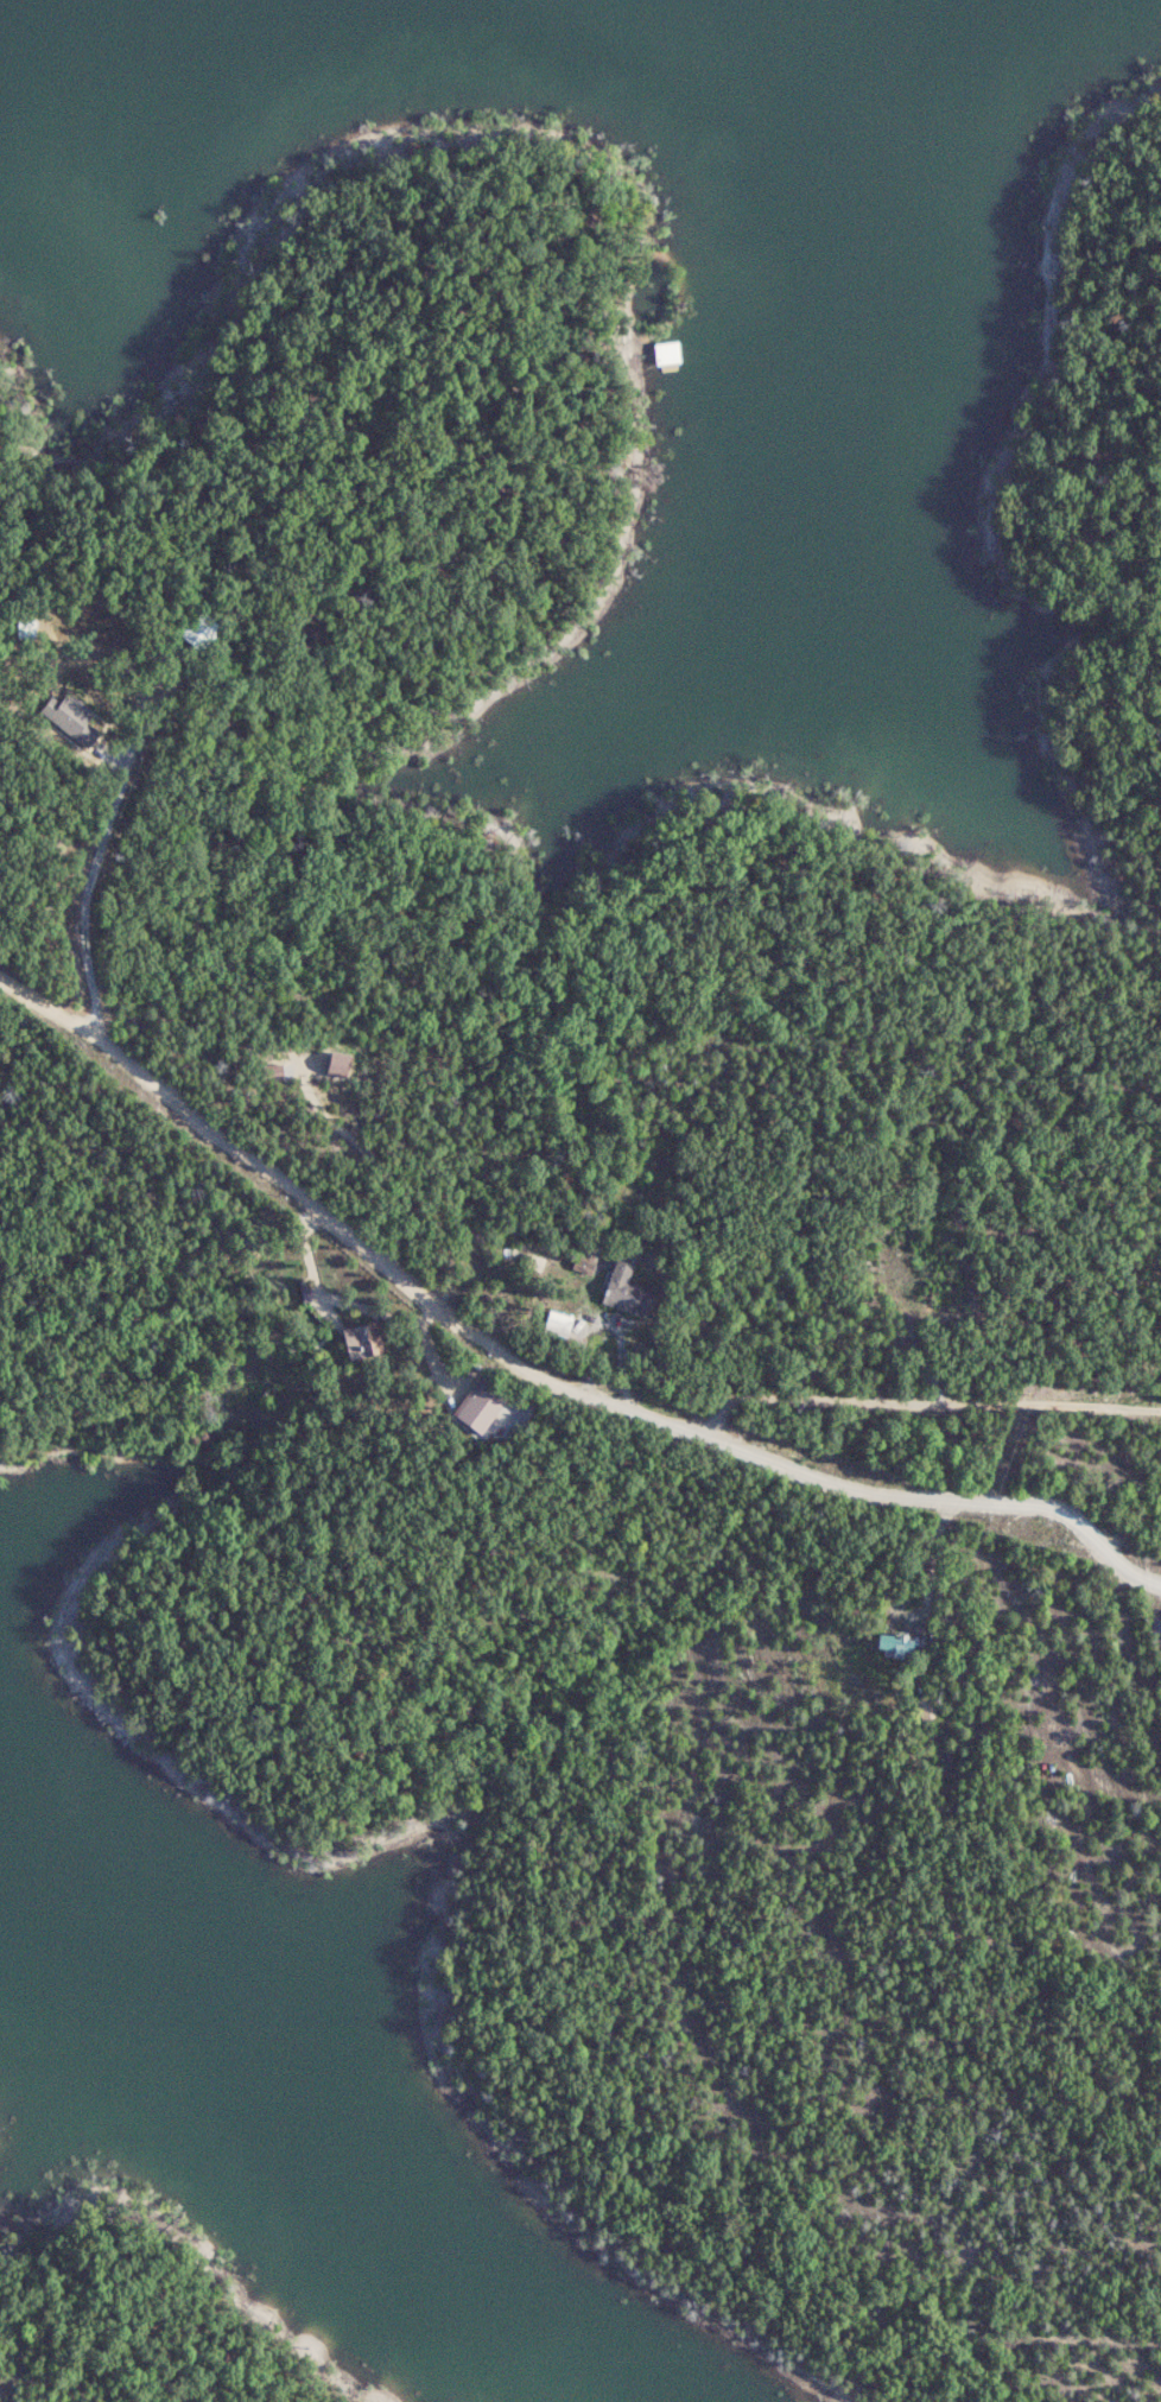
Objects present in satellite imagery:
building: (649, 348)
road: (83, 899)
building: (342, 1061)
building: (357, 1341)
road: (537, 1376)
road: (924, 1402)
building: (478, 1412)

